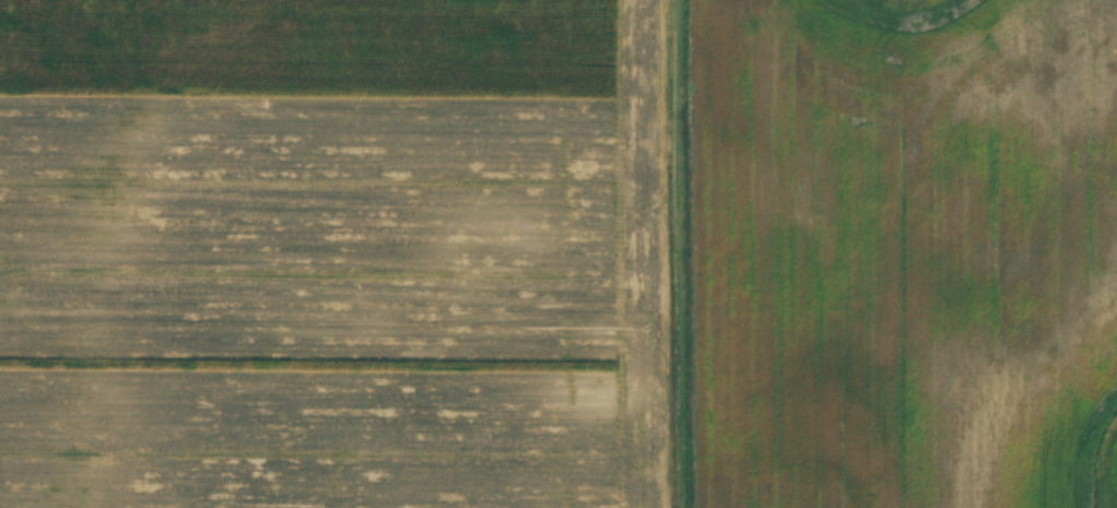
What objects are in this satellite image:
road: (684, 253)

